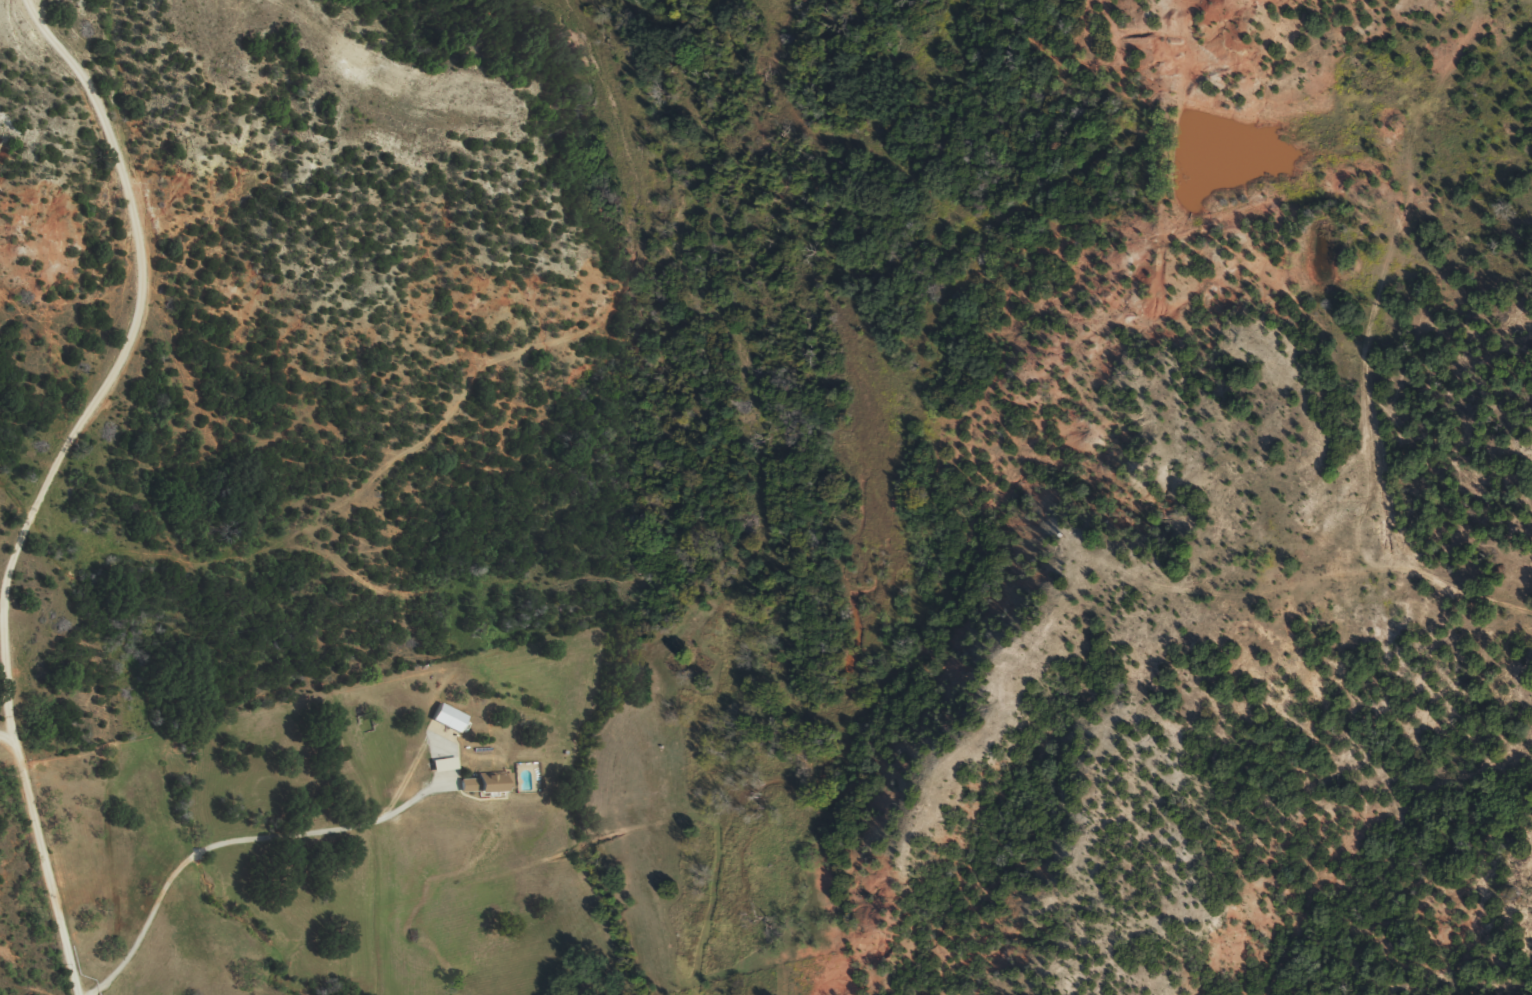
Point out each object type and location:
road: (58, 488)
building: (449, 725)
road: (6, 745)
building: (487, 790)
road: (241, 847)

